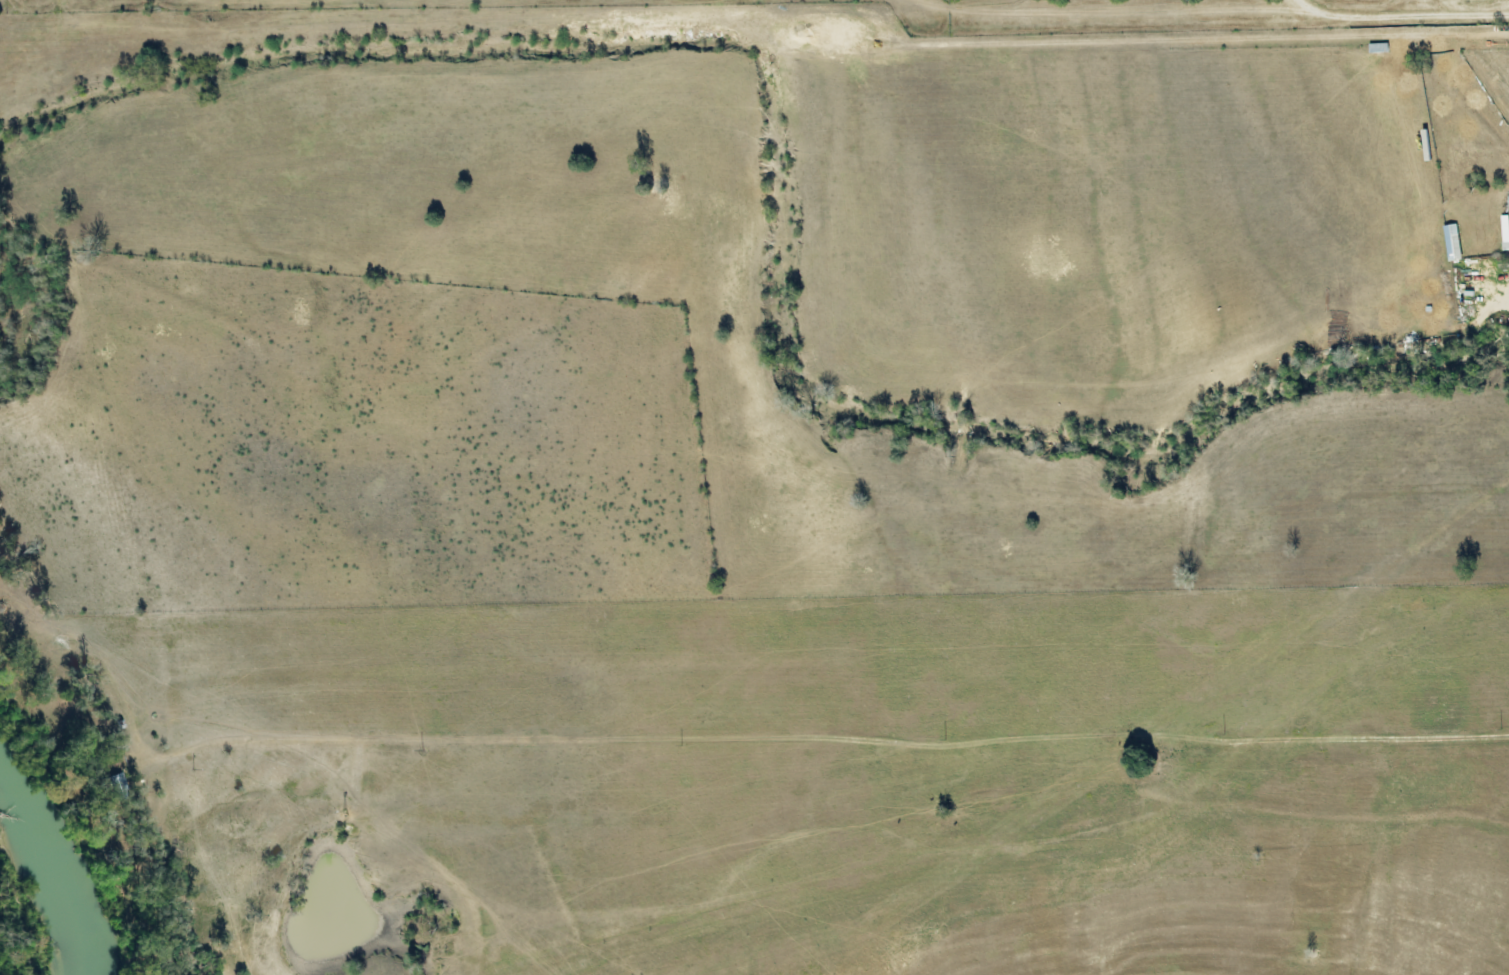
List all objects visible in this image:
road: (1395, 15)
building: (1452, 242)
river: (55, 877)

